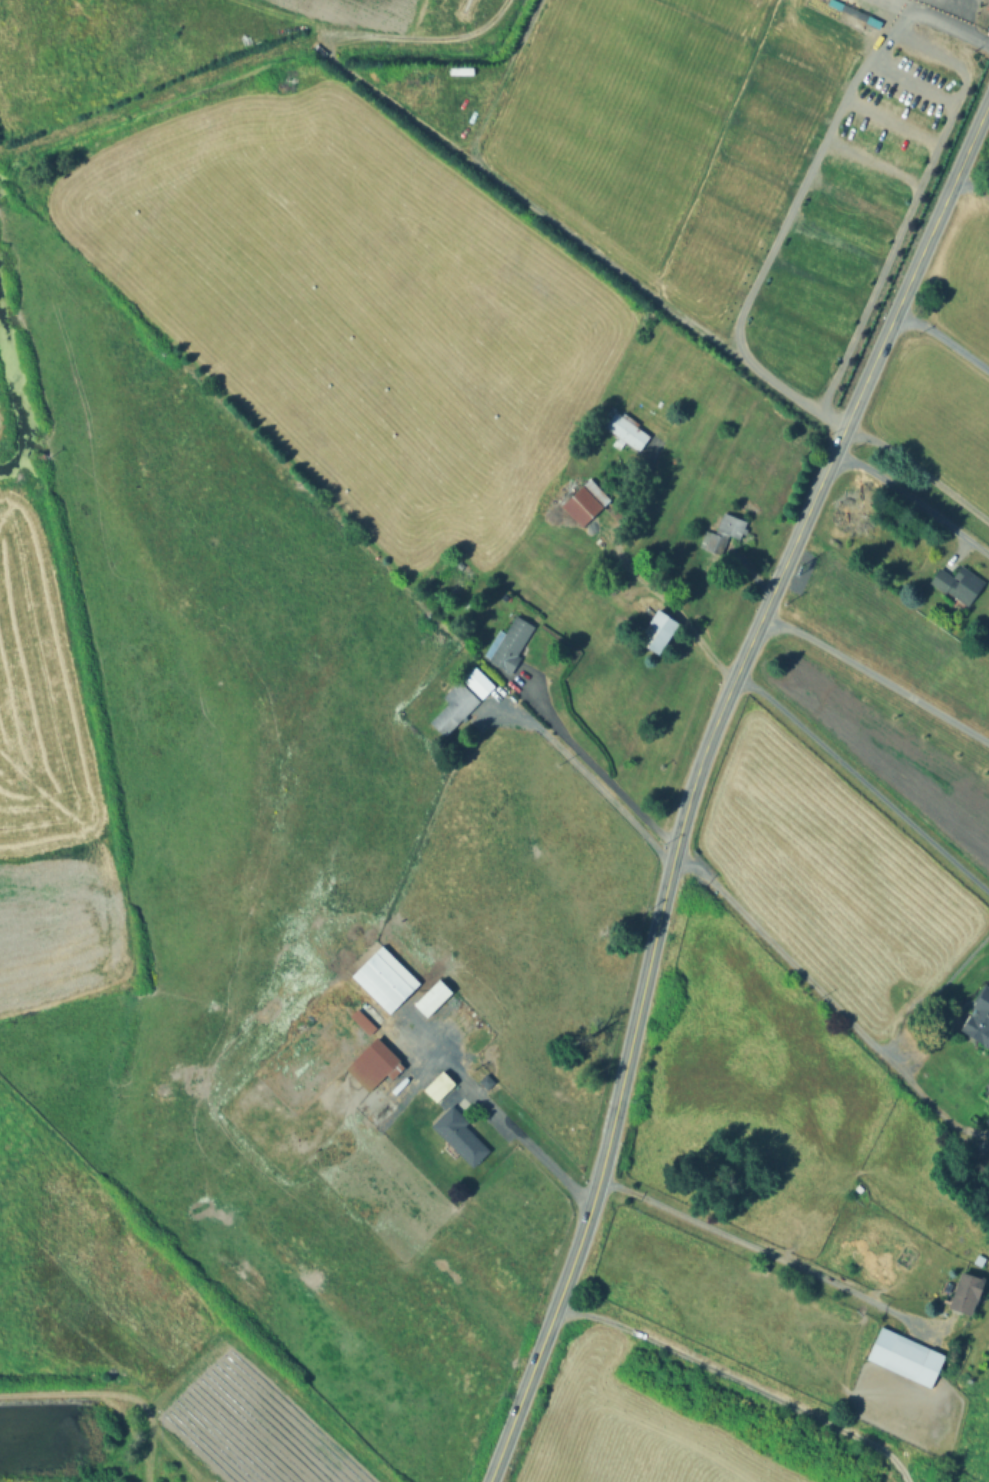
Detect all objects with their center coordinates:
building: (837, 6)
crop: (360, 8)
road: (923, 17)
building: (875, 21)
flagpole: (981, 24)
road: (963, 29)
road: (878, 43)
road: (965, 155)
road: (973, 183)
road: (943, 340)
crop: (0, 423)
building: (624, 429)
road: (920, 471)
road: (816, 494)
road: (914, 499)
building: (585, 500)
building: (722, 534)
road: (960, 550)
building: (960, 579)
road: (667, 603)
building: (654, 628)
building: (511, 643)
building: (481, 676)
road: (877, 676)
building: (456, 702)
road: (595, 768)
road: (590, 777)
road: (864, 781)
crop: (47, 794)
building: (388, 974)
building: (435, 992)
road: (827, 1000)
building: (363, 1016)
building: (979, 1017)
building: (376, 1062)
building: (487, 1079)
building: (442, 1083)
road: (505, 1121)
building: (459, 1128)
road: (608, 1136)
building: (981, 1257)
road: (779, 1259)
building: (969, 1288)
building: (906, 1353)
road: (744, 1376)

